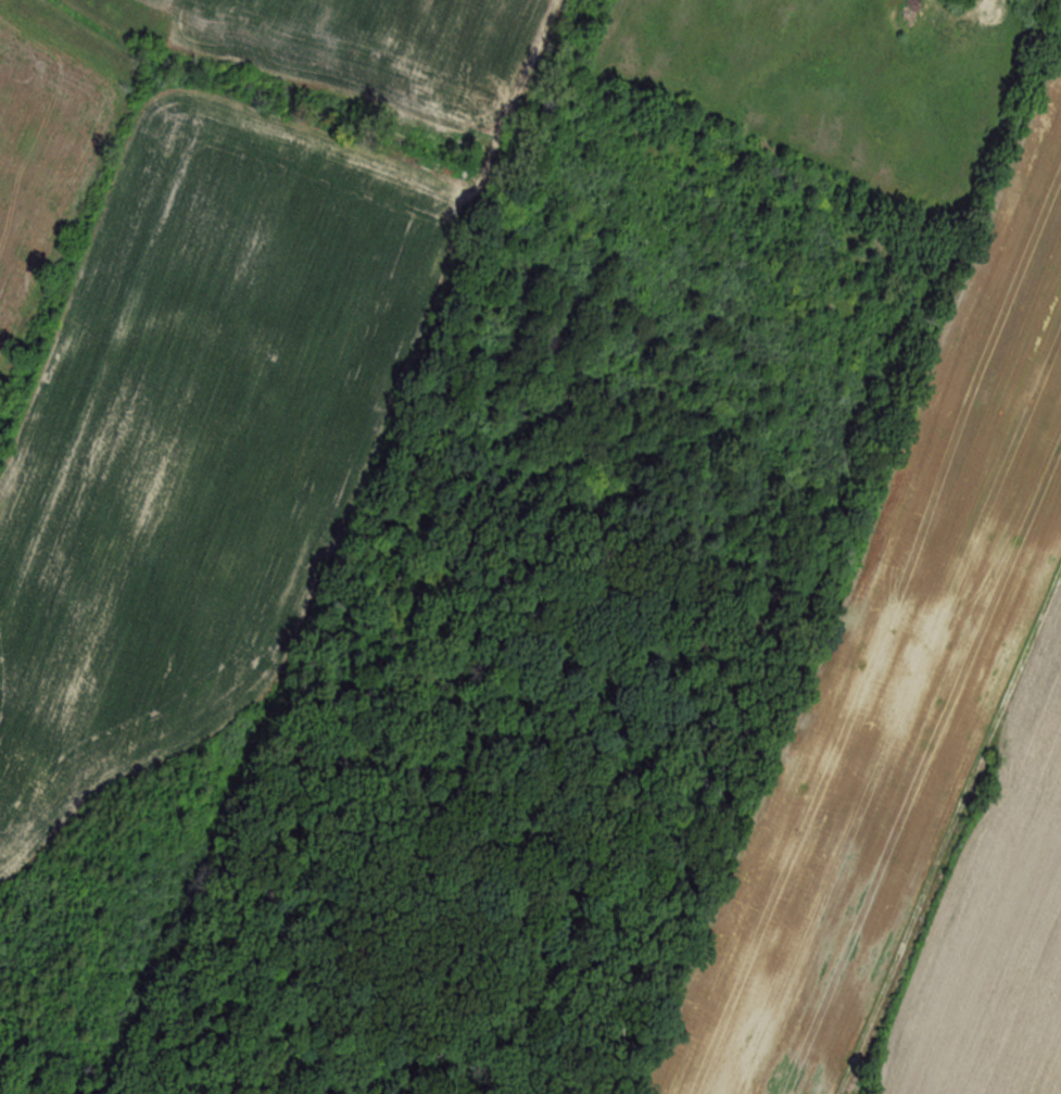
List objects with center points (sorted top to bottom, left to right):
crop: (359, 50)
crop: (38, 168)
crop: (184, 525)
crop: (897, 689)
crop: (990, 921)

